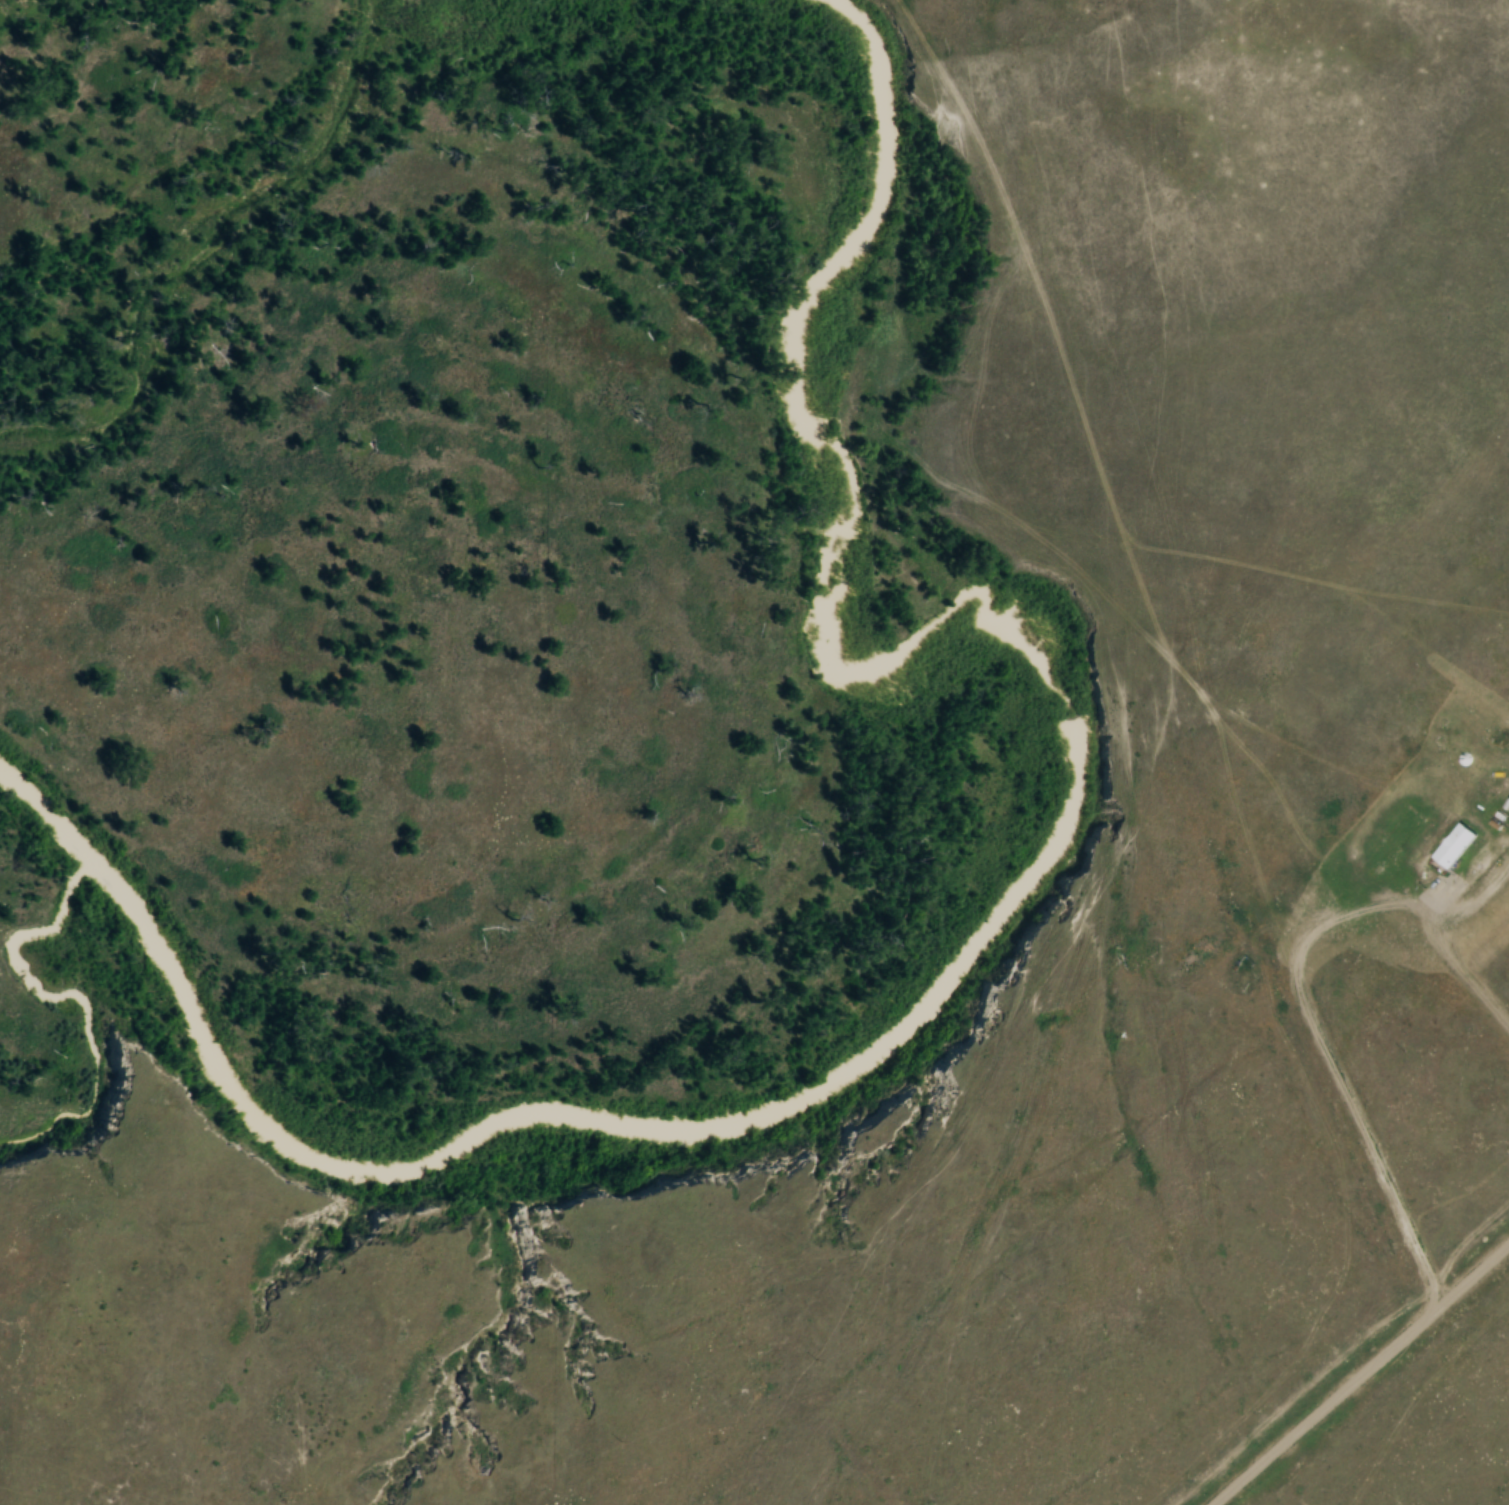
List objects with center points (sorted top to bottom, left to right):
building: (1494, 792)
building: (1456, 844)
river: (1007, 903)
road: (1307, 1314)

